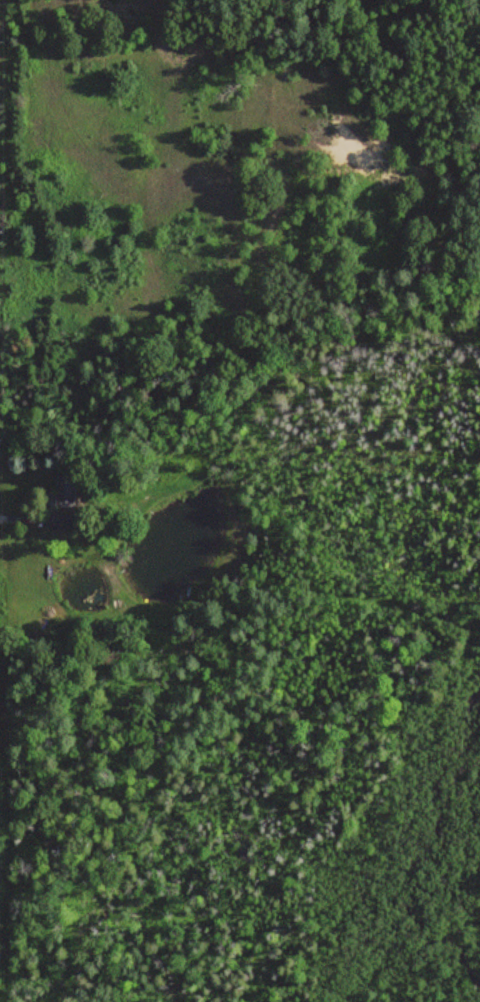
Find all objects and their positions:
building: (65, 491)
building: (59, 521)

